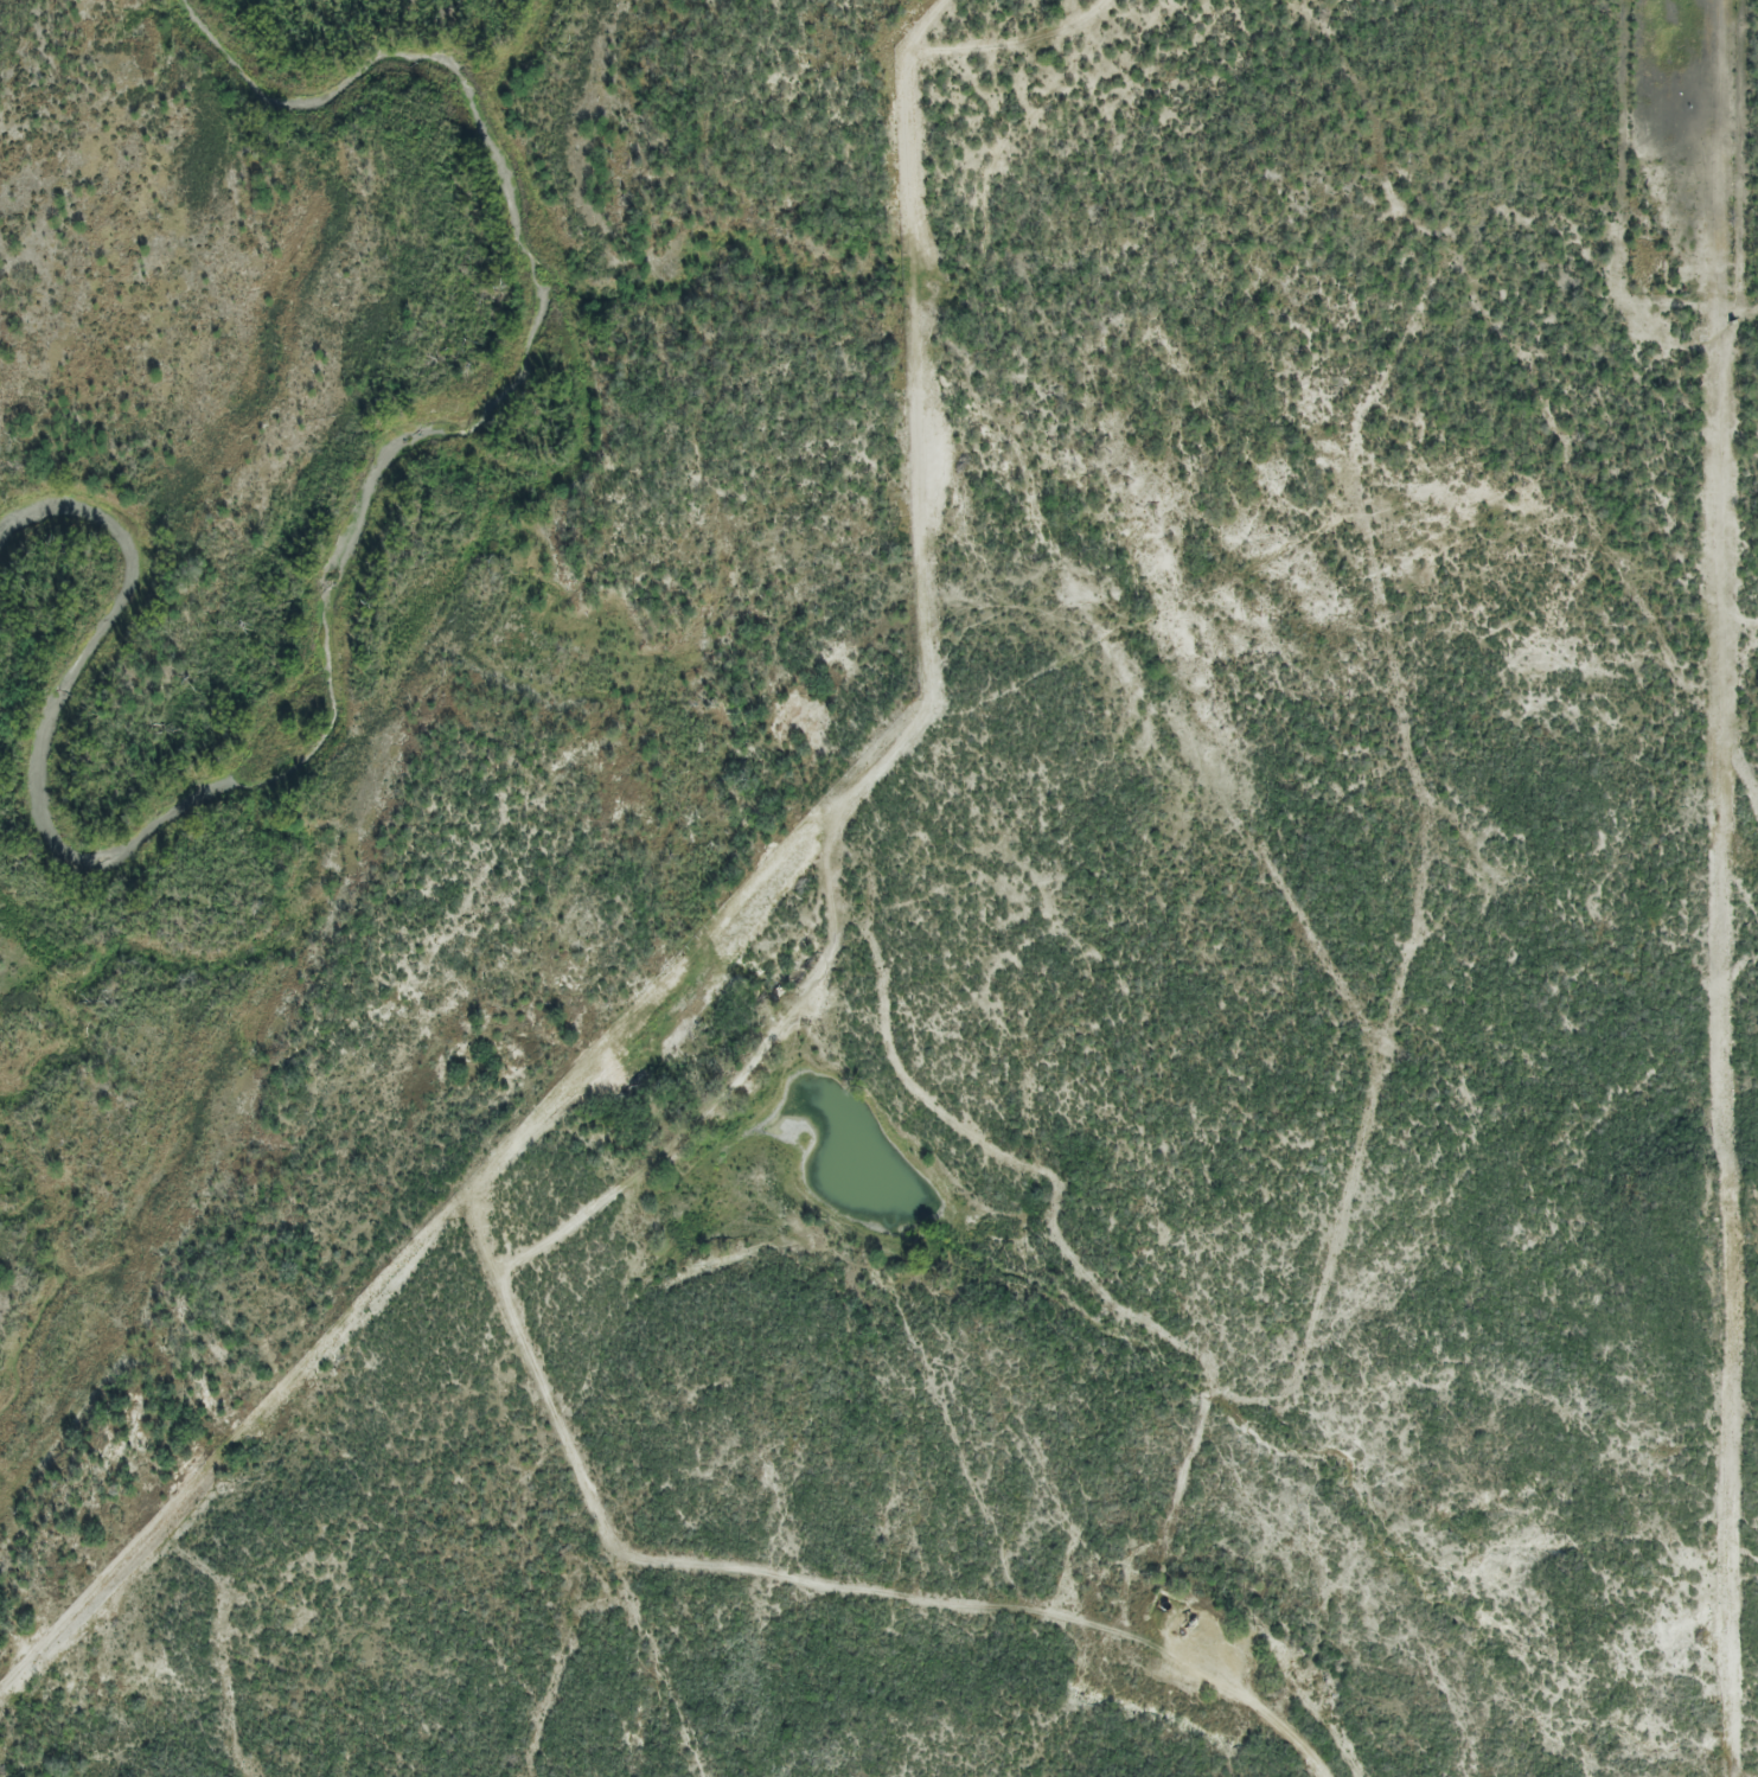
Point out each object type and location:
river: (314, 686)
road: (601, 772)

